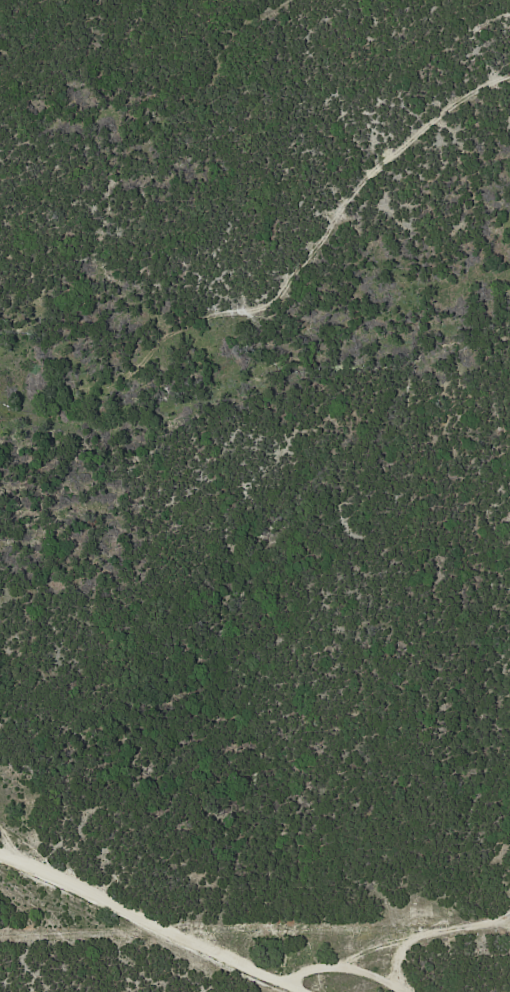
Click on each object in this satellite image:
road: (150, 923)
road: (348, 964)

